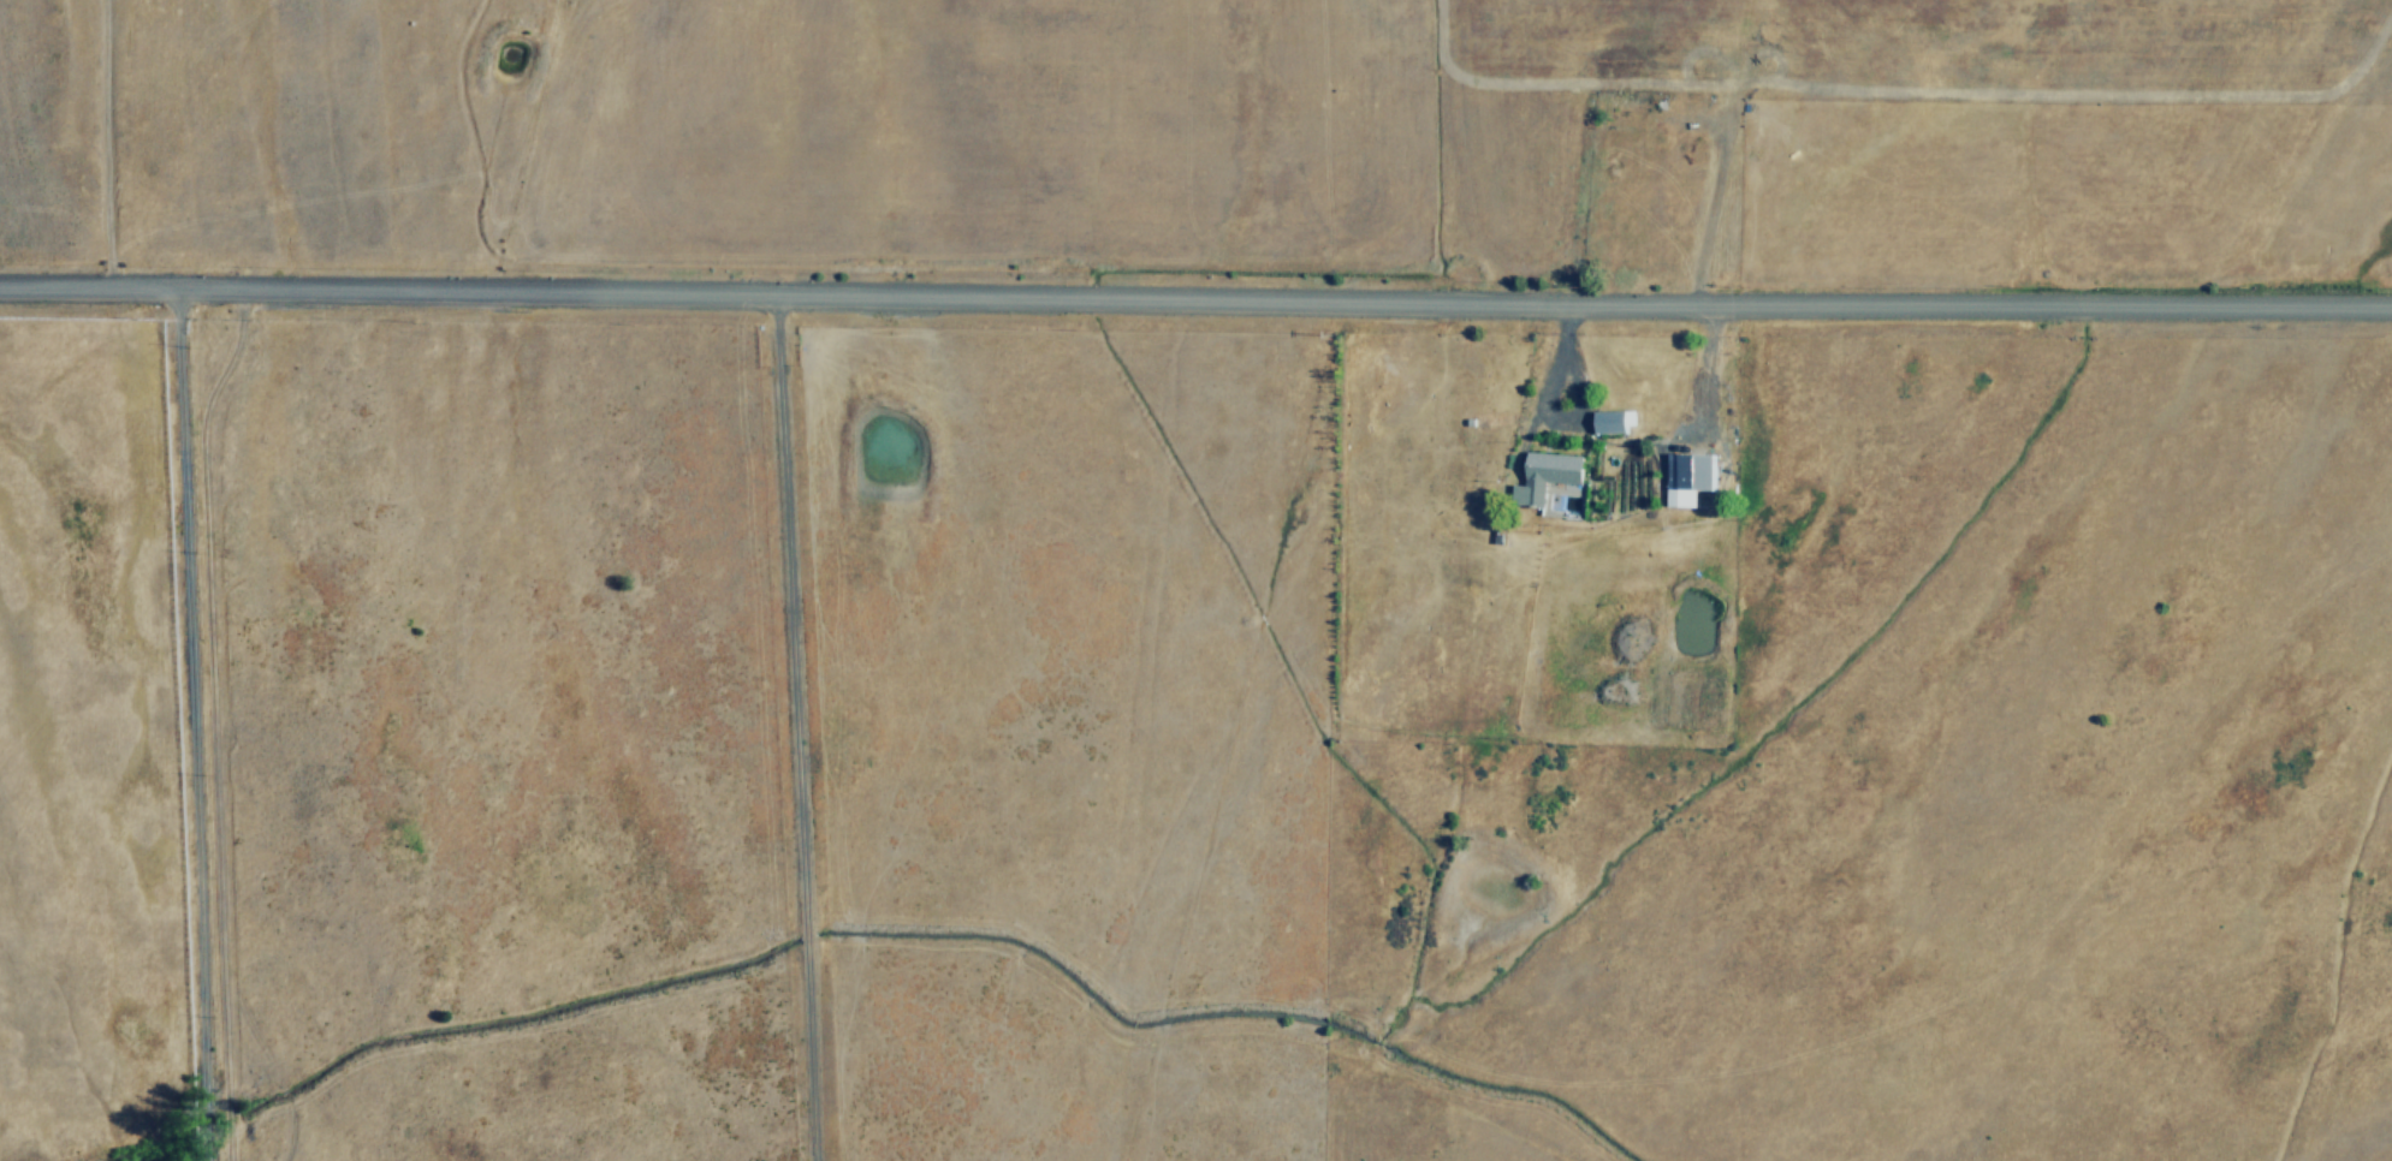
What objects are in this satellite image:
road: (1195, 299)
building: (1614, 419)
building: (1545, 475)
building: (1688, 475)
road: (790, 609)
road: (186, 724)

